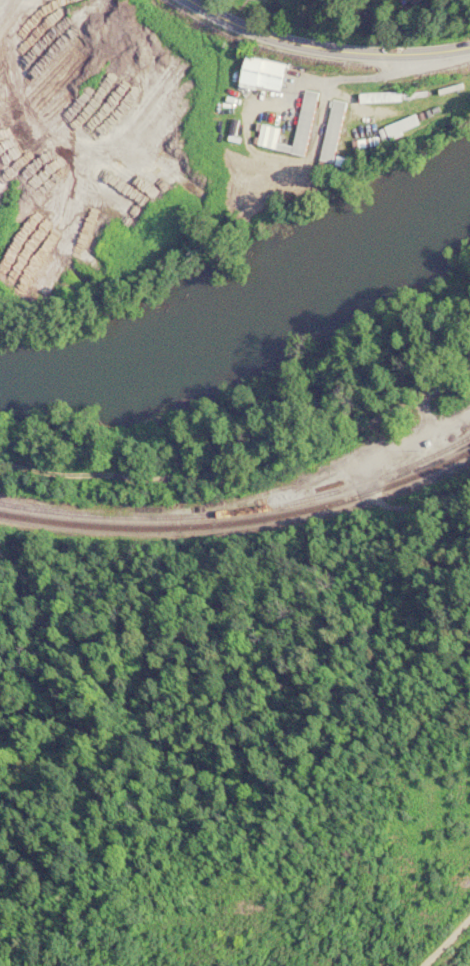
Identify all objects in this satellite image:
building: (412, 2)
road: (322, 50)
building: (262, 73)
building: (392, 96)
building: (308, 106)
building: (402, 125)
building: (333, 134)
river: (252, 332)
railway: (433, 455)
road: (244, 463)
railway: (241, 508)
railway: (239, 519)
road: (426, 918)

